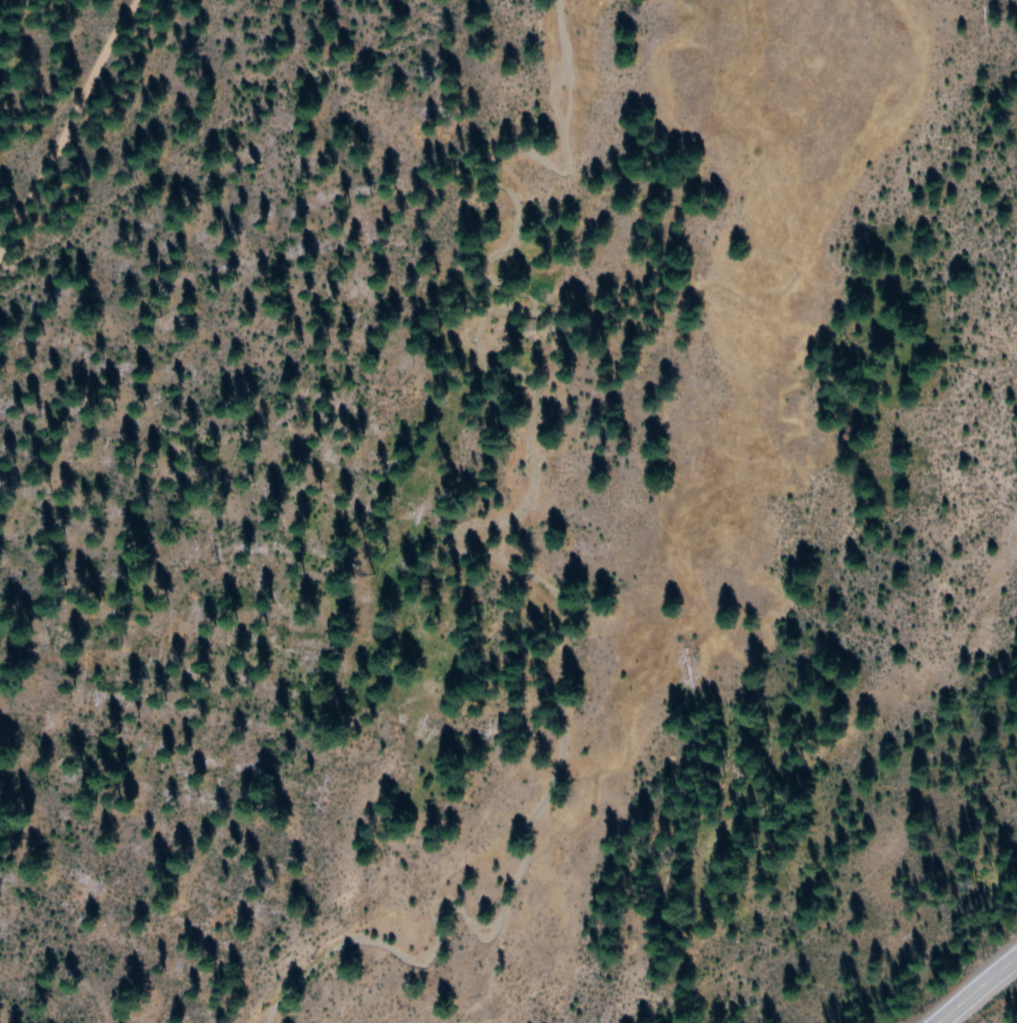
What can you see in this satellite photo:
road: (68, 128)
road: (975, 988)

